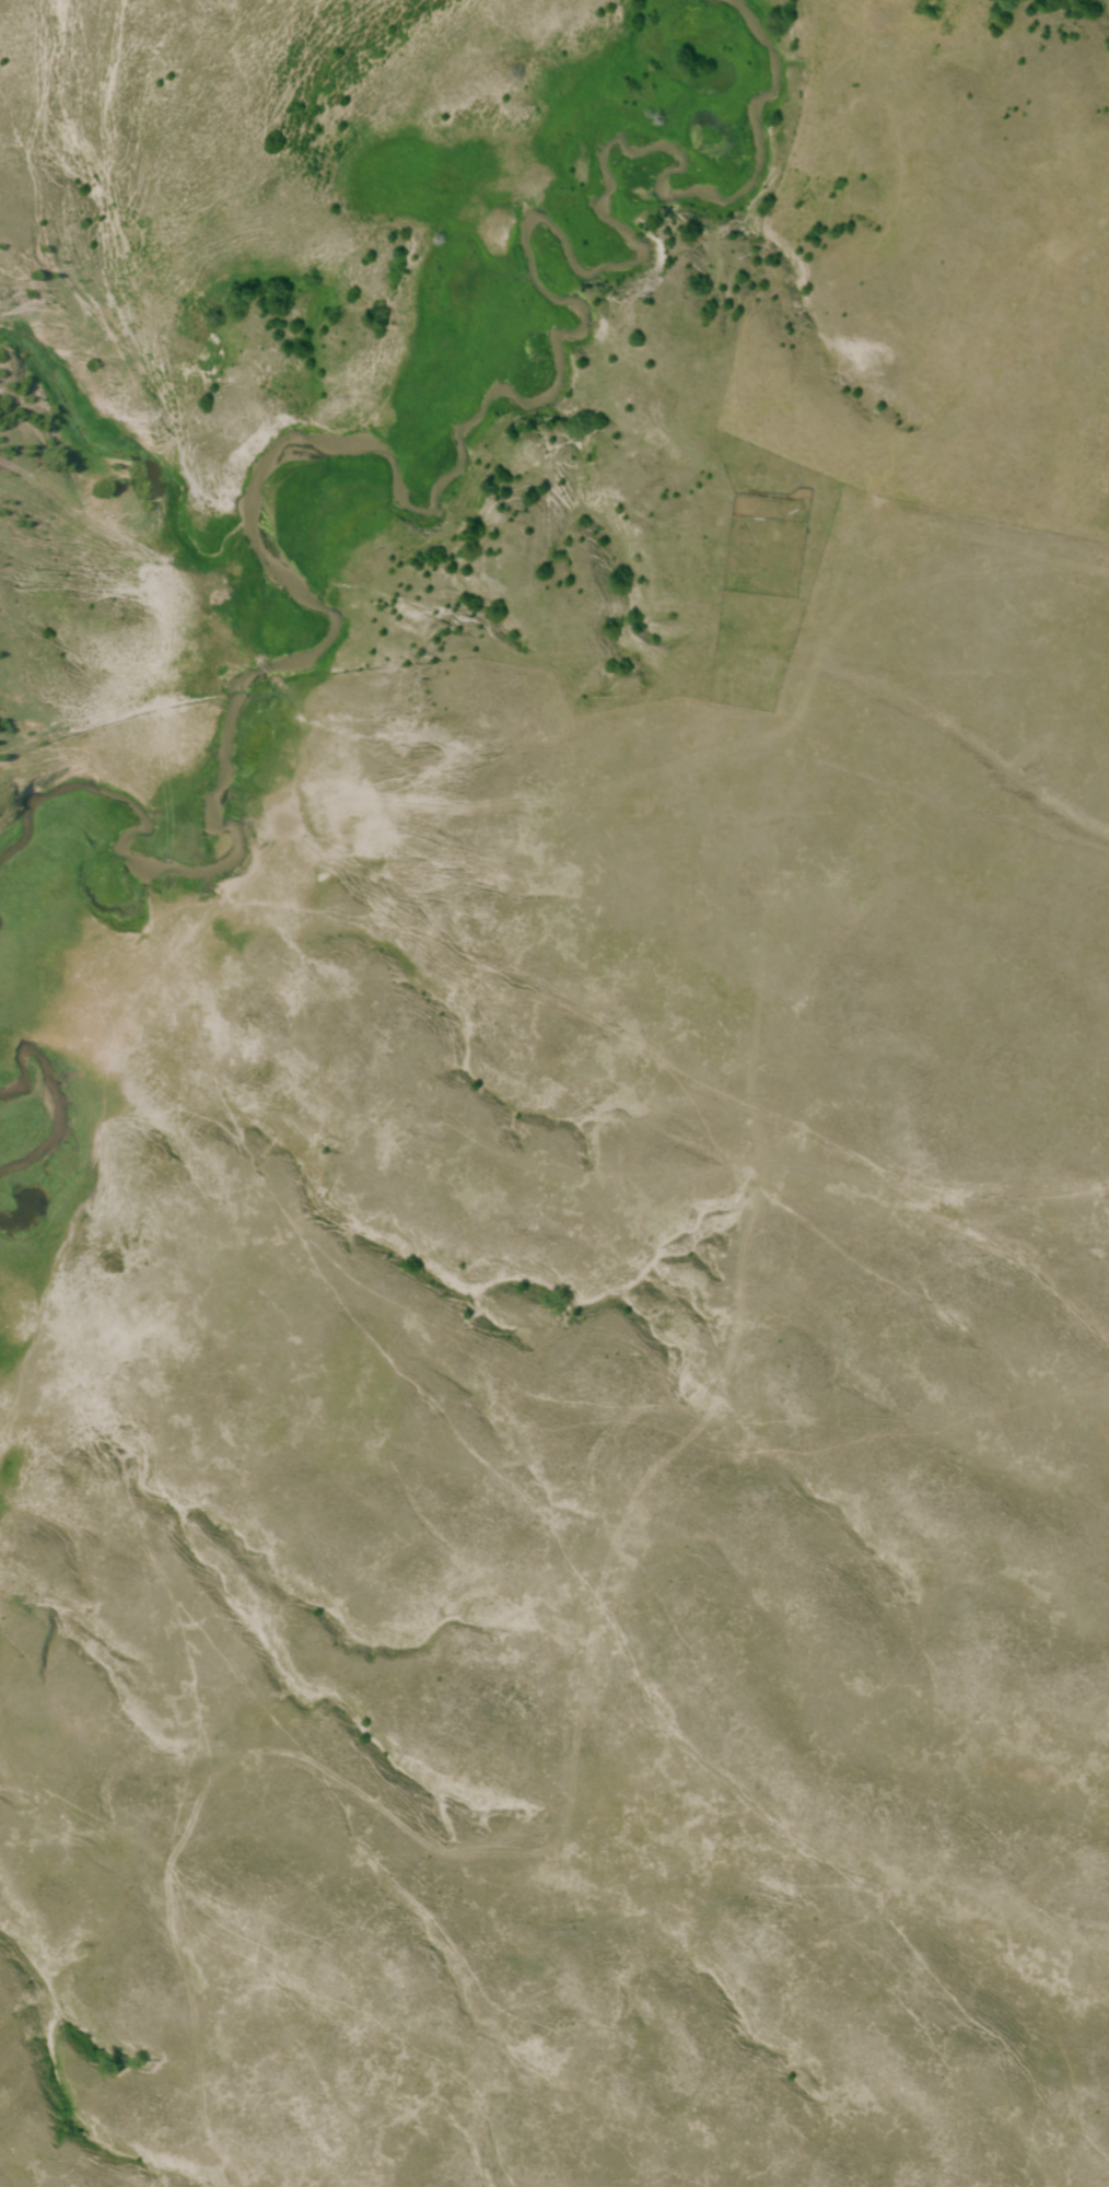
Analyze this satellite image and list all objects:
park: (1104, 43)
river: (433, 485)
river: (30, 1151)

